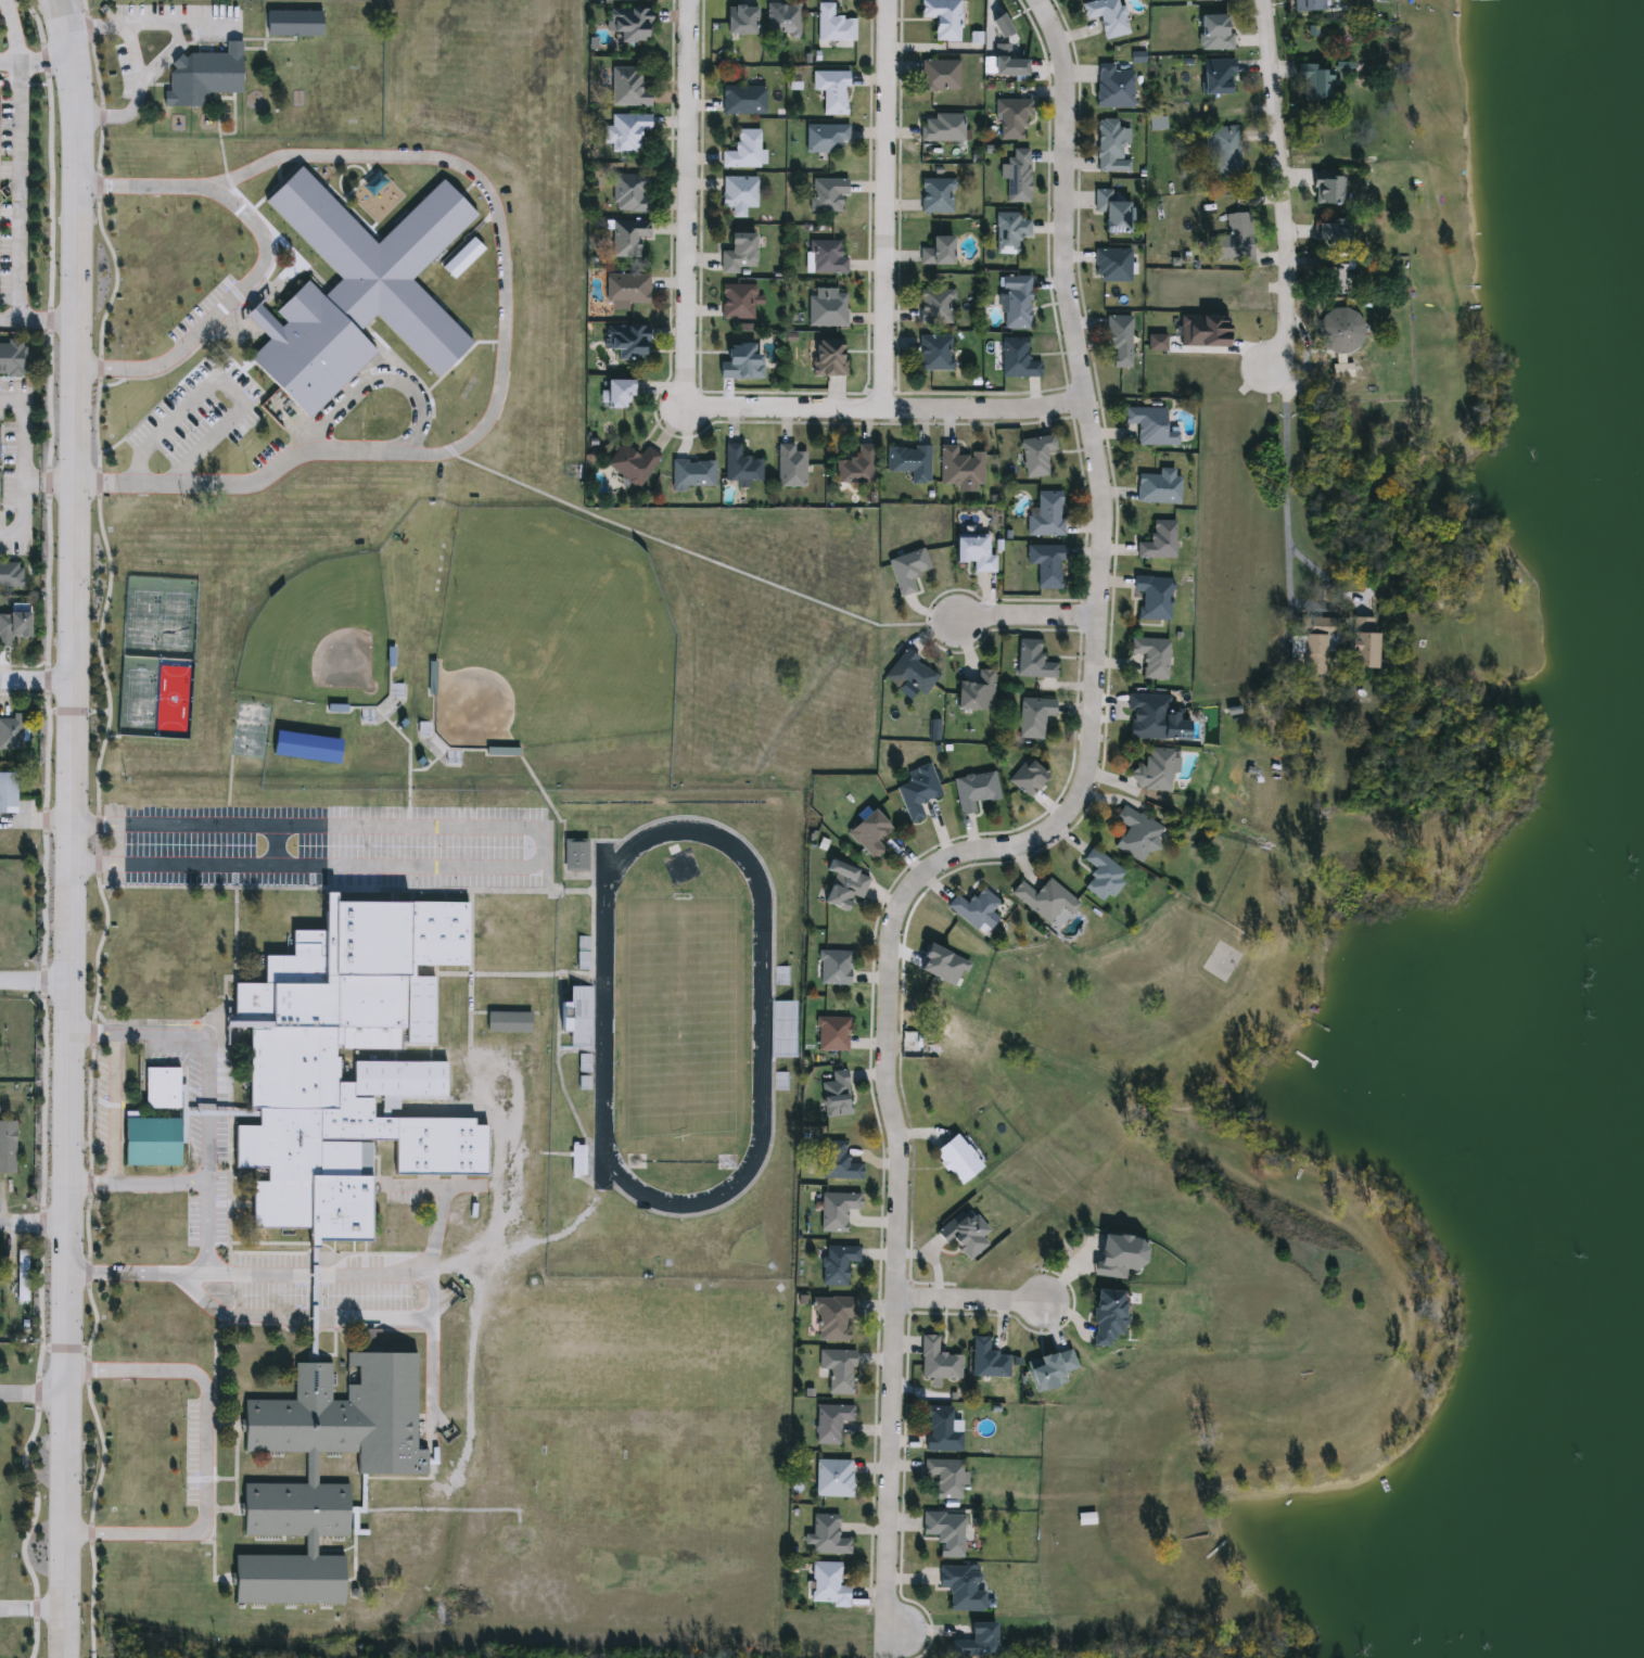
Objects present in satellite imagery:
building: (1308, 5)
building: (1107, 16)
building: (739, 18)
building: (942, 18)
building: (782, 21)
building: (291, 23)
building: (628, 25)
building: (832, 25)
road: (151, 28)
road: (12, 33)
building: (1212, 33)
road: (164, 58)
building: (1006, 63)
road: (37, 65)
building: (203, 76)
building: (940, 76)
building: (1216, 77)
building: (1314, 84)
building: (627, 87)
building: (1112, 87)
building: (831, 91)
road: (140, 100)
building: (743, 101)
building: (1011, 118)
building: (942, 128)
building: (626, 131)
building: (825, 138)
building: (1108, 142)
building: (744, 150)
building: (1224, 150)
road: (368, 166)
building: (1017, 176)
road: (1279, 182)
road: (471, 187)
building: (1325, 188)
road: (21, 193)
building: (630, 193)
building: (738, 194)
building: (827, 194)
building: (936, 195)
road: (889, 202)
building: (1110, 212)
building: (1329, 230)
building: (1008, 232)
building: (628, 238)
building: (1234, 241)
building: (936, 252)
building: (739, 254)
building: (466, 257)
building: (826, 257)
building: (1111, 266)
building: (1333, 276)
road: (493, 279)
building: (627, 289)
building: (359, 292)
building: (737, 303)
building: (1017, 305)
road: (505, 307)
building: (935, 307)
building: (826, 311)
road: (218, 314)
road: (39, 322)
building: (1341, 329)
building: (627, 342)
building: (1119, 342)
building: (934, 354)
building: (11, 358)
building: (828, 358)
building: (1016, 359)
building: (740, 362)
road: (220, 379)
road: (380, 381)
building: (615, 393)
road: (10, 398)
road: (688, 400)
building: (1149, 426)
building: (1035, 456)
building: (909, 462)
building: (632, 464)
building: (740, 465)
road: (21, 468)
building: (790, 468)
building: (856, 468)
building: (959, 468)
building: (692, 473)
road: (1292, 483)
road: (50, 484)
building: (1159, 487)
building: (1046, 515)
road: (11, 536)
building: (1158, 541)
road: (687, 550)
building: (973, 552)
building: (1045, 565)
building: (907, 570)
building: (10, 575)
building: (1151, 599)
road: (1028, 610)
building: (15, 627)
building: (1353, 645)
park: (485, 649)
building: (1314, 650)
building: (1151, 656)
park: (157, 658)
building: (1032, 661)
building: (909, 673)
road: (38, 687)
building: (974, 692)
building: (1033, 717)
building: (1147, 717)
park: (253, 730)
building: (13, 732)
building: (304, 748)
building: (1152, 770)
building: (1028, 779)
building: (974, 791)
building: (7, 793)
building: (917, 793)
road: (74, 828)
building: (868, 834)
building: (1135, 834)
road: (1027, 838)
parking lot: (337, 847)
road: (547, 847)
building: (575, 856)
building: (1100, 876)
building: (843, 885)
building: (1044, 900)
building: (972, 908)
building: (834, 968)
road: (36, 987)
building: (510, 995)
building: (507, 1023)
building: (787, 1030)
building: (832, 1034)
building: (290, 1074)
building: (160, 1088)
building: (473, 1089)
building: (834, 1096)
road: (115, 1113)
building: (149, 1143)
building: (7, 1147)
road: (209, 1158)
building: (577, 1160)
building: (955, 1160)
building: (838, 1163)
road: (139, 1188)
building: (836, 1211)
road: (35, 1224)
building: (456, 1232)
building: (481, 1234)
building: (963, 1234)
road: (509, 1242)
building: (837, 1265)
road: (262, 1275)
building: (22, 1277)
road: (317, 1277)
road: (434, 1292)
road: (973, 1296)
building: (1106, 1317)
building: (833, 1318)
building: (987, 1361)
building: (938, 1362)
building: (837, 1370)
building: (1049, 1370)
road: (34, 1393)
building: (830, 1423)
building: (941, 1431)
road: (206, 1457)
building: (331, 1476)
building: (945, 1478)
building: (832, 1479)
building: (945, 1532)
building: (826, 1536)
building: (827, 1584)
building: (963, 1589)
road: (33, 1609)
building: (977, 1642)

